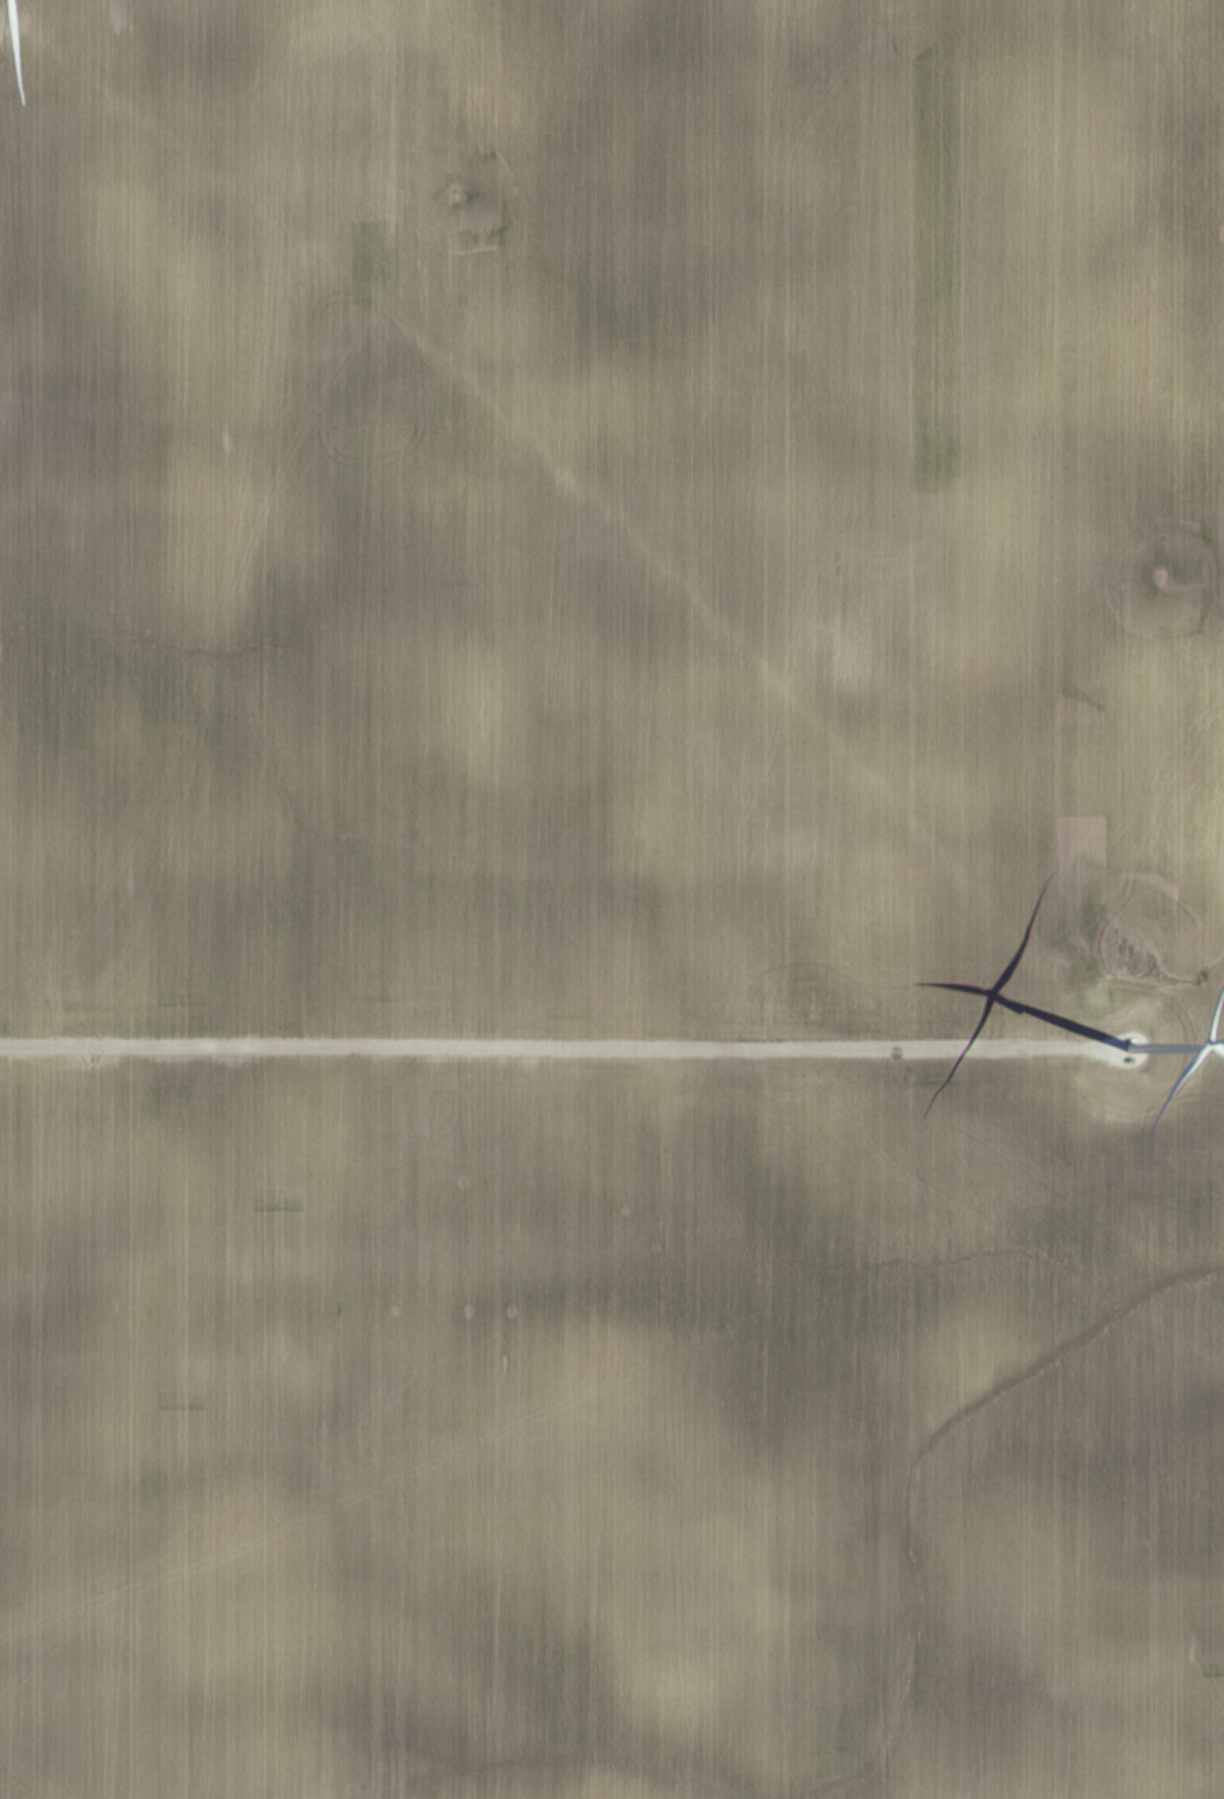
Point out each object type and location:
road: (534, 1043)
wind turbine: (1130, 1057)

